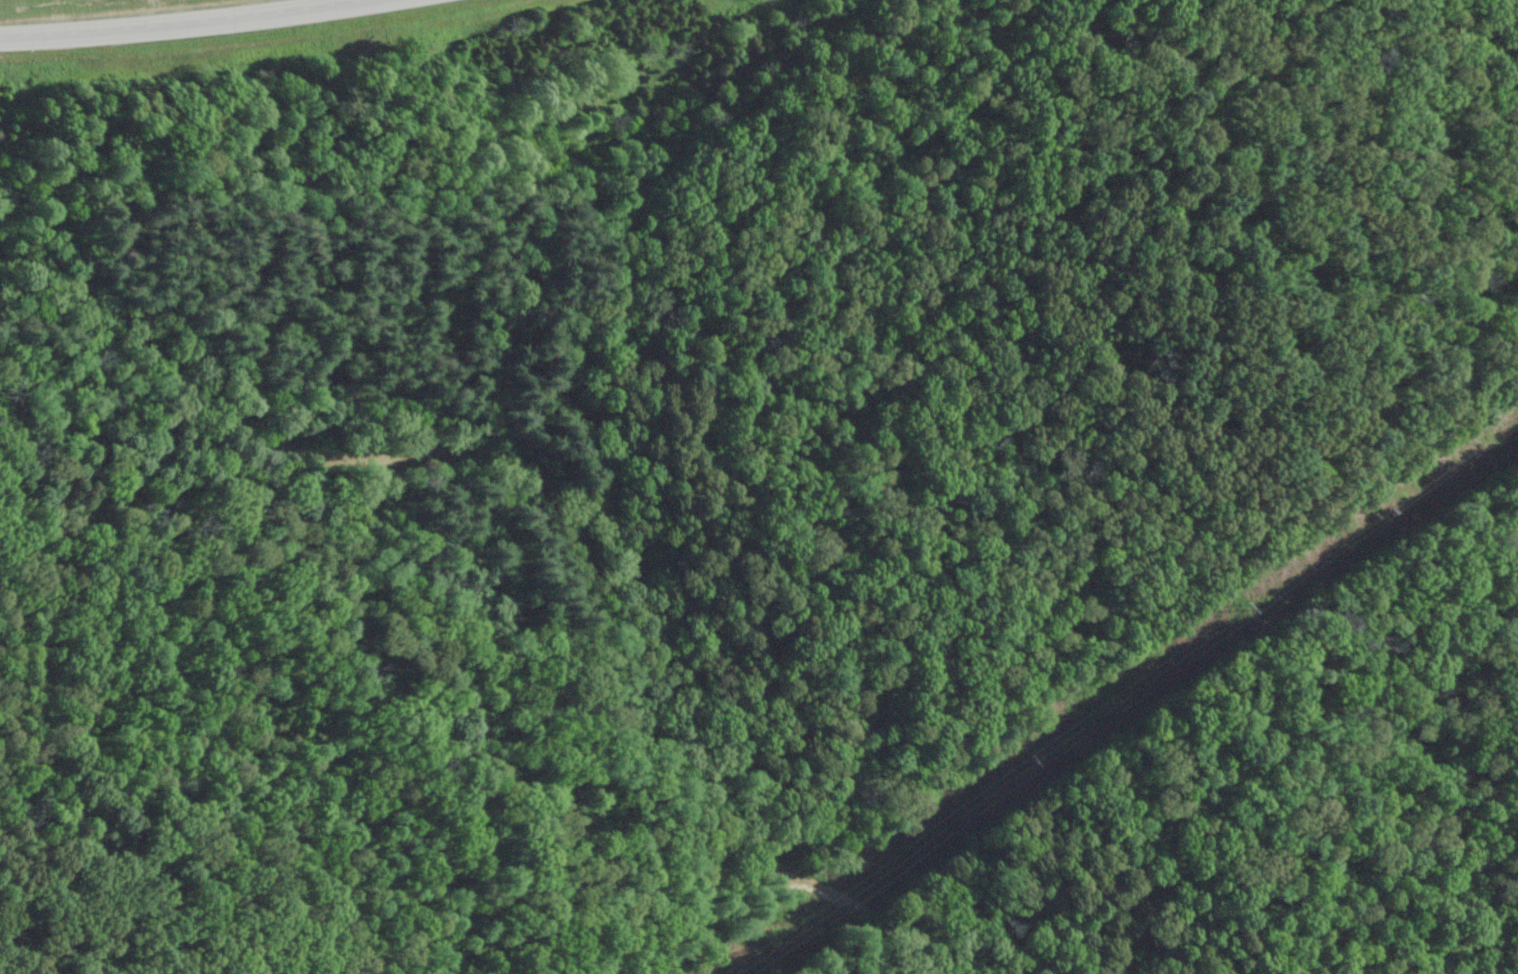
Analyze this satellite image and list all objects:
road: (177, 22)

